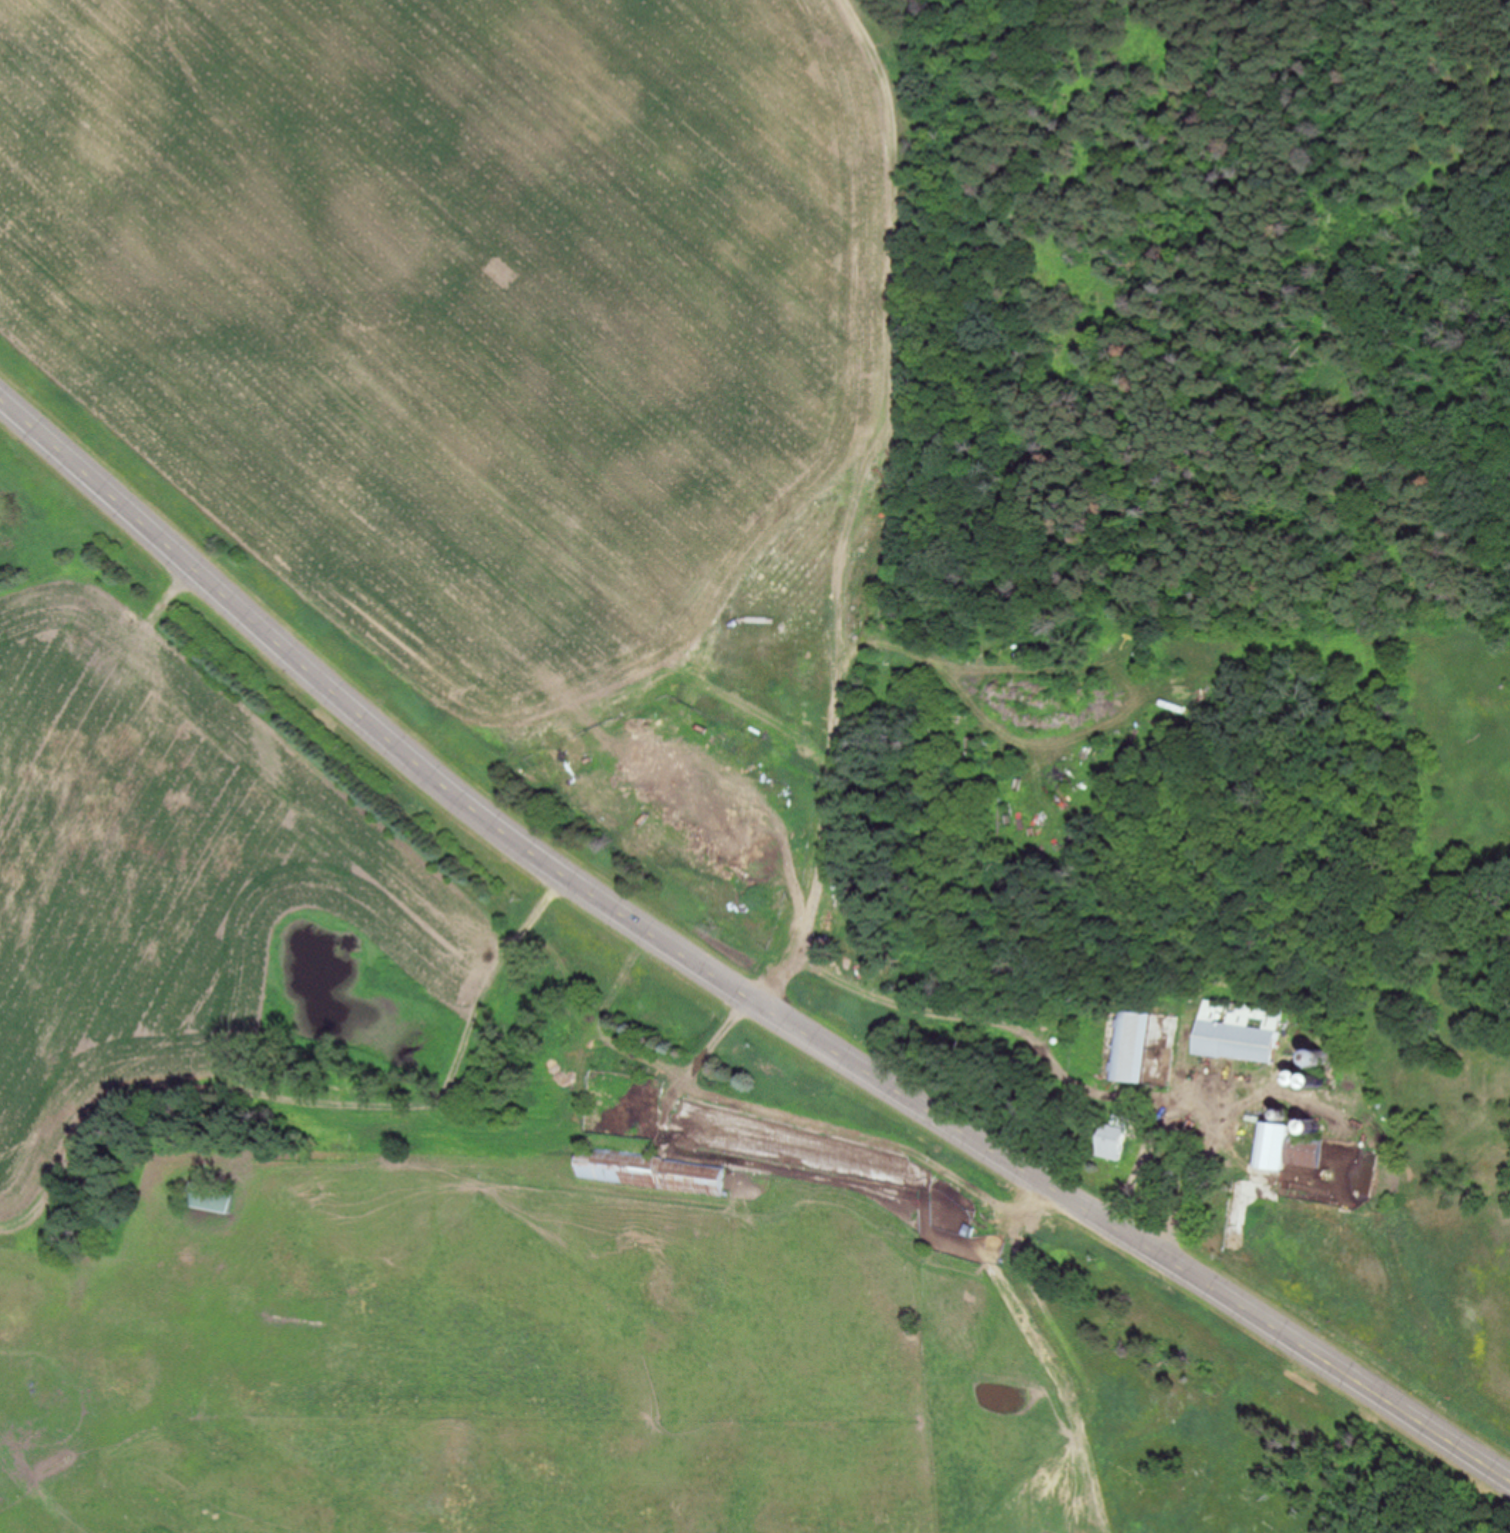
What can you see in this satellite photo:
road: (723, 979)
road: (954, 1010)
building: (1239, 1031)
building: (1130, 1046)
road: (449, 1081)
building: (1117, 1136)
building: (1287, 1147)
building: (643, 1172)
building: (209, 1196)

